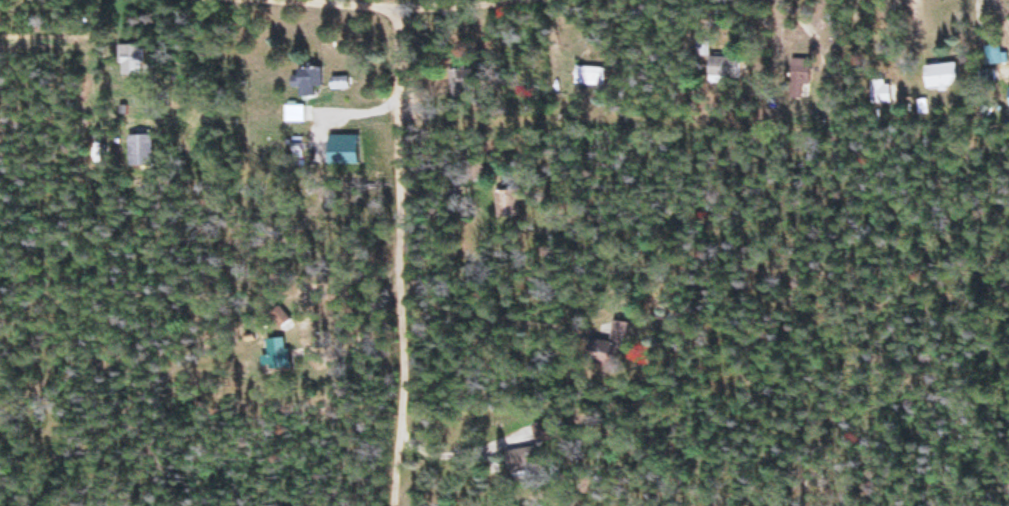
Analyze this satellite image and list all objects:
road: (495, 4)
road: (308, 9)
building: (991, 56)
building: (131, 58)
building: (724, 68)
building: (587, 77)
building: (939, 77)
building: (800, 79)
building: (459, 80)
building: (307, 81)
building: (340, 83)
building: (879, 92)
building: (1008, 97)
building: (140, 152)
road: (406, 153)
building: (507, 204)
building: (651, 304)
building: (610, 348)
building: (278, 354)
road: (412, 402)
building: (543, 432)
building: (517, 462)

